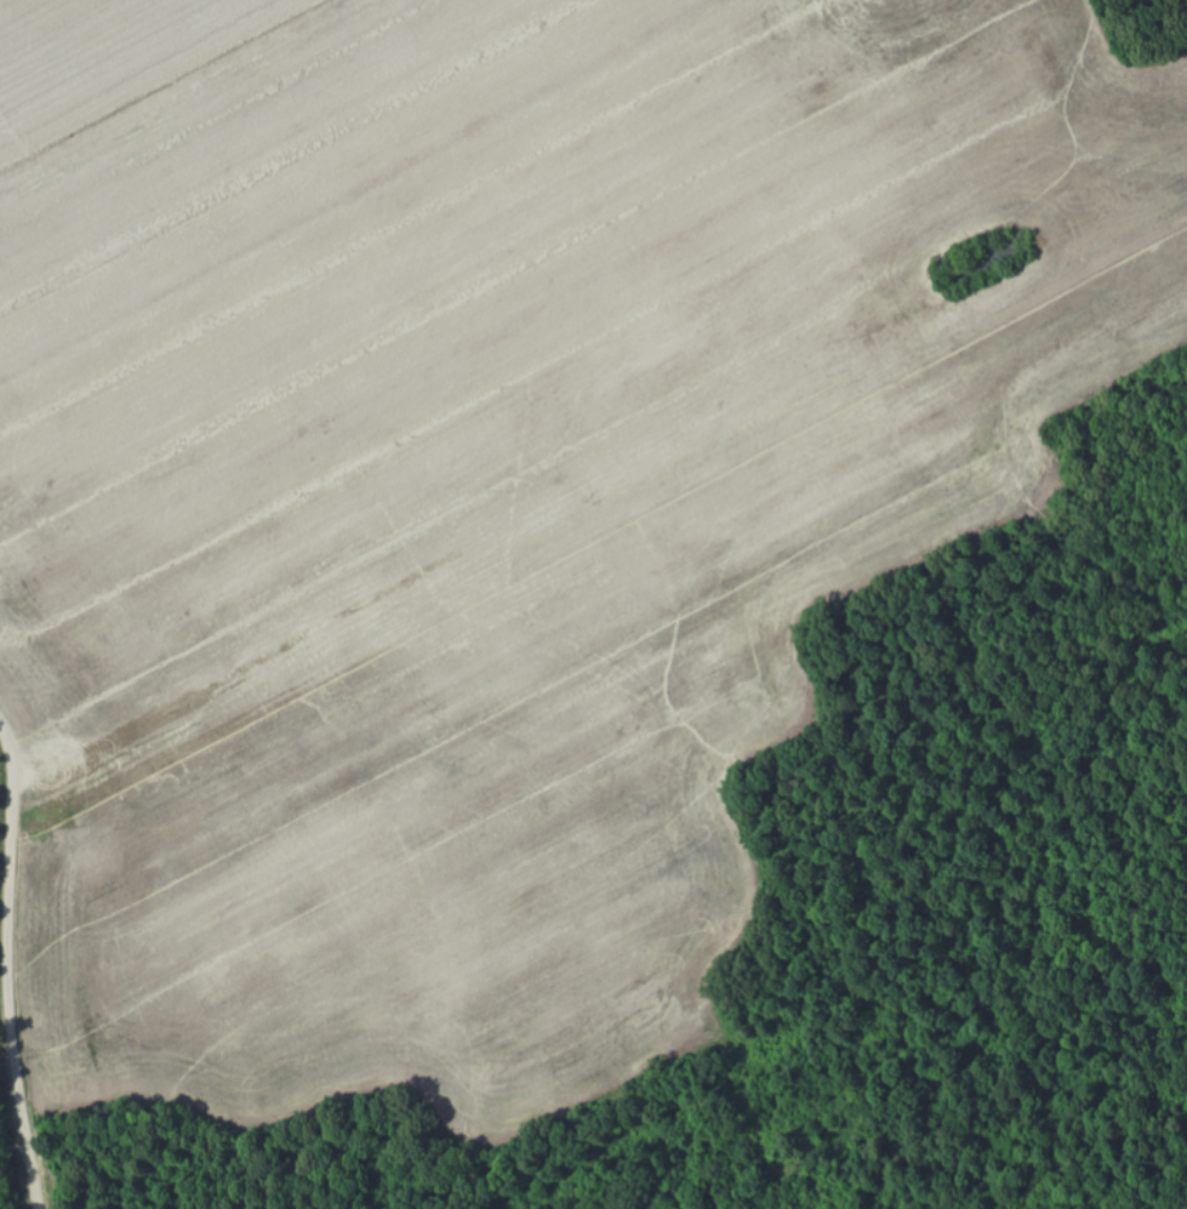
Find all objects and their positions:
road: (10, 968)

